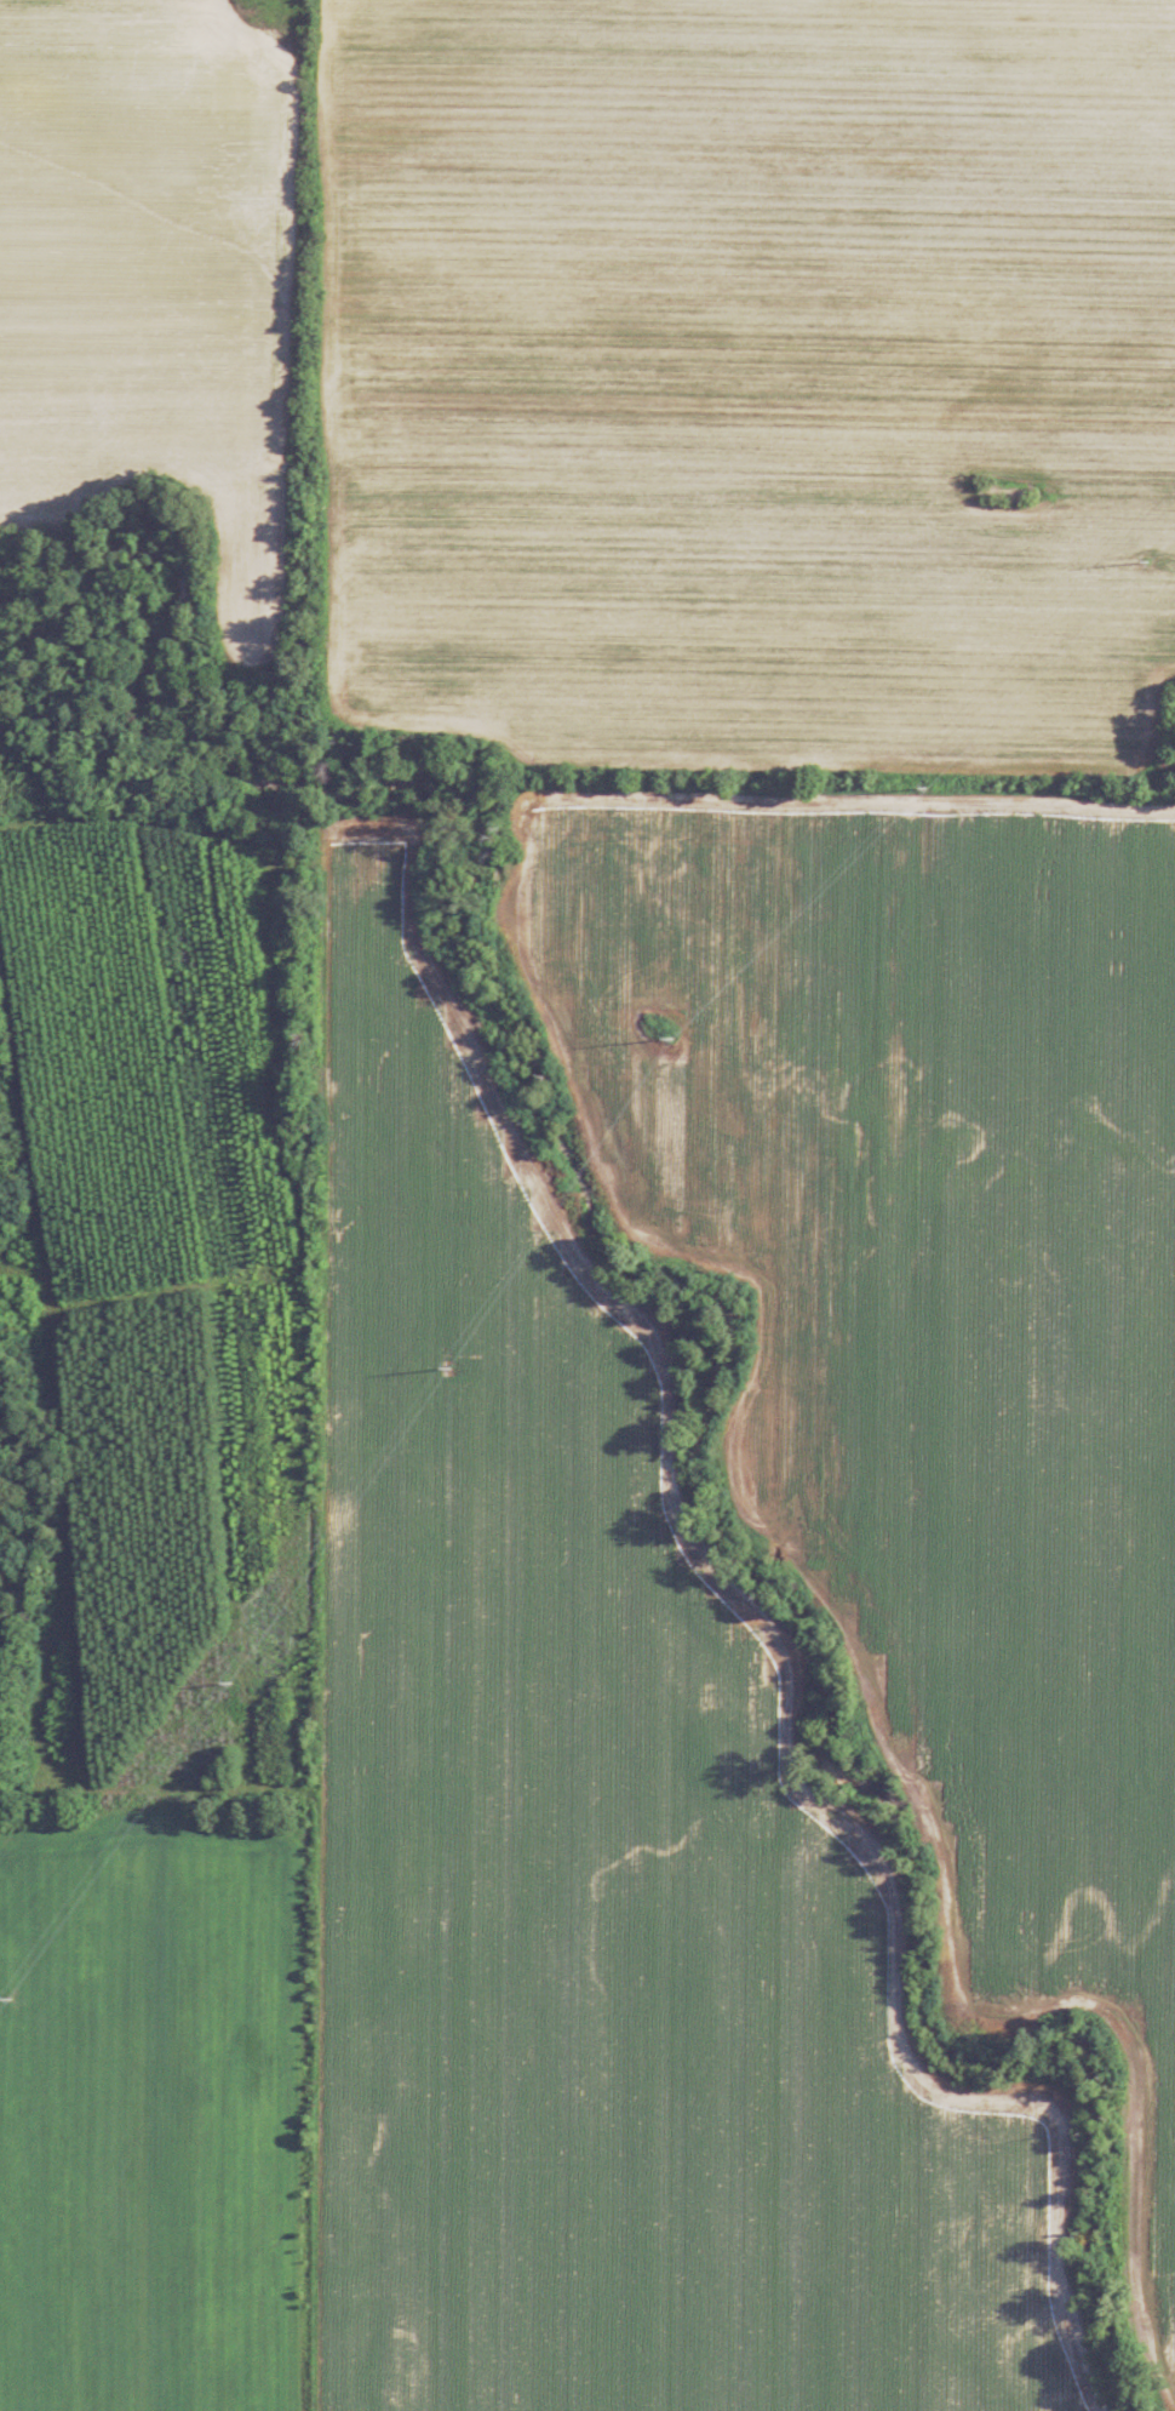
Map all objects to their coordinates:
power tower: (1144, 562)
power tower: (923, 782)
power tower: (671, 1022)
power tower: (448, 1358)
power tower: (228, 1678)
power tower: (6, 1994)

